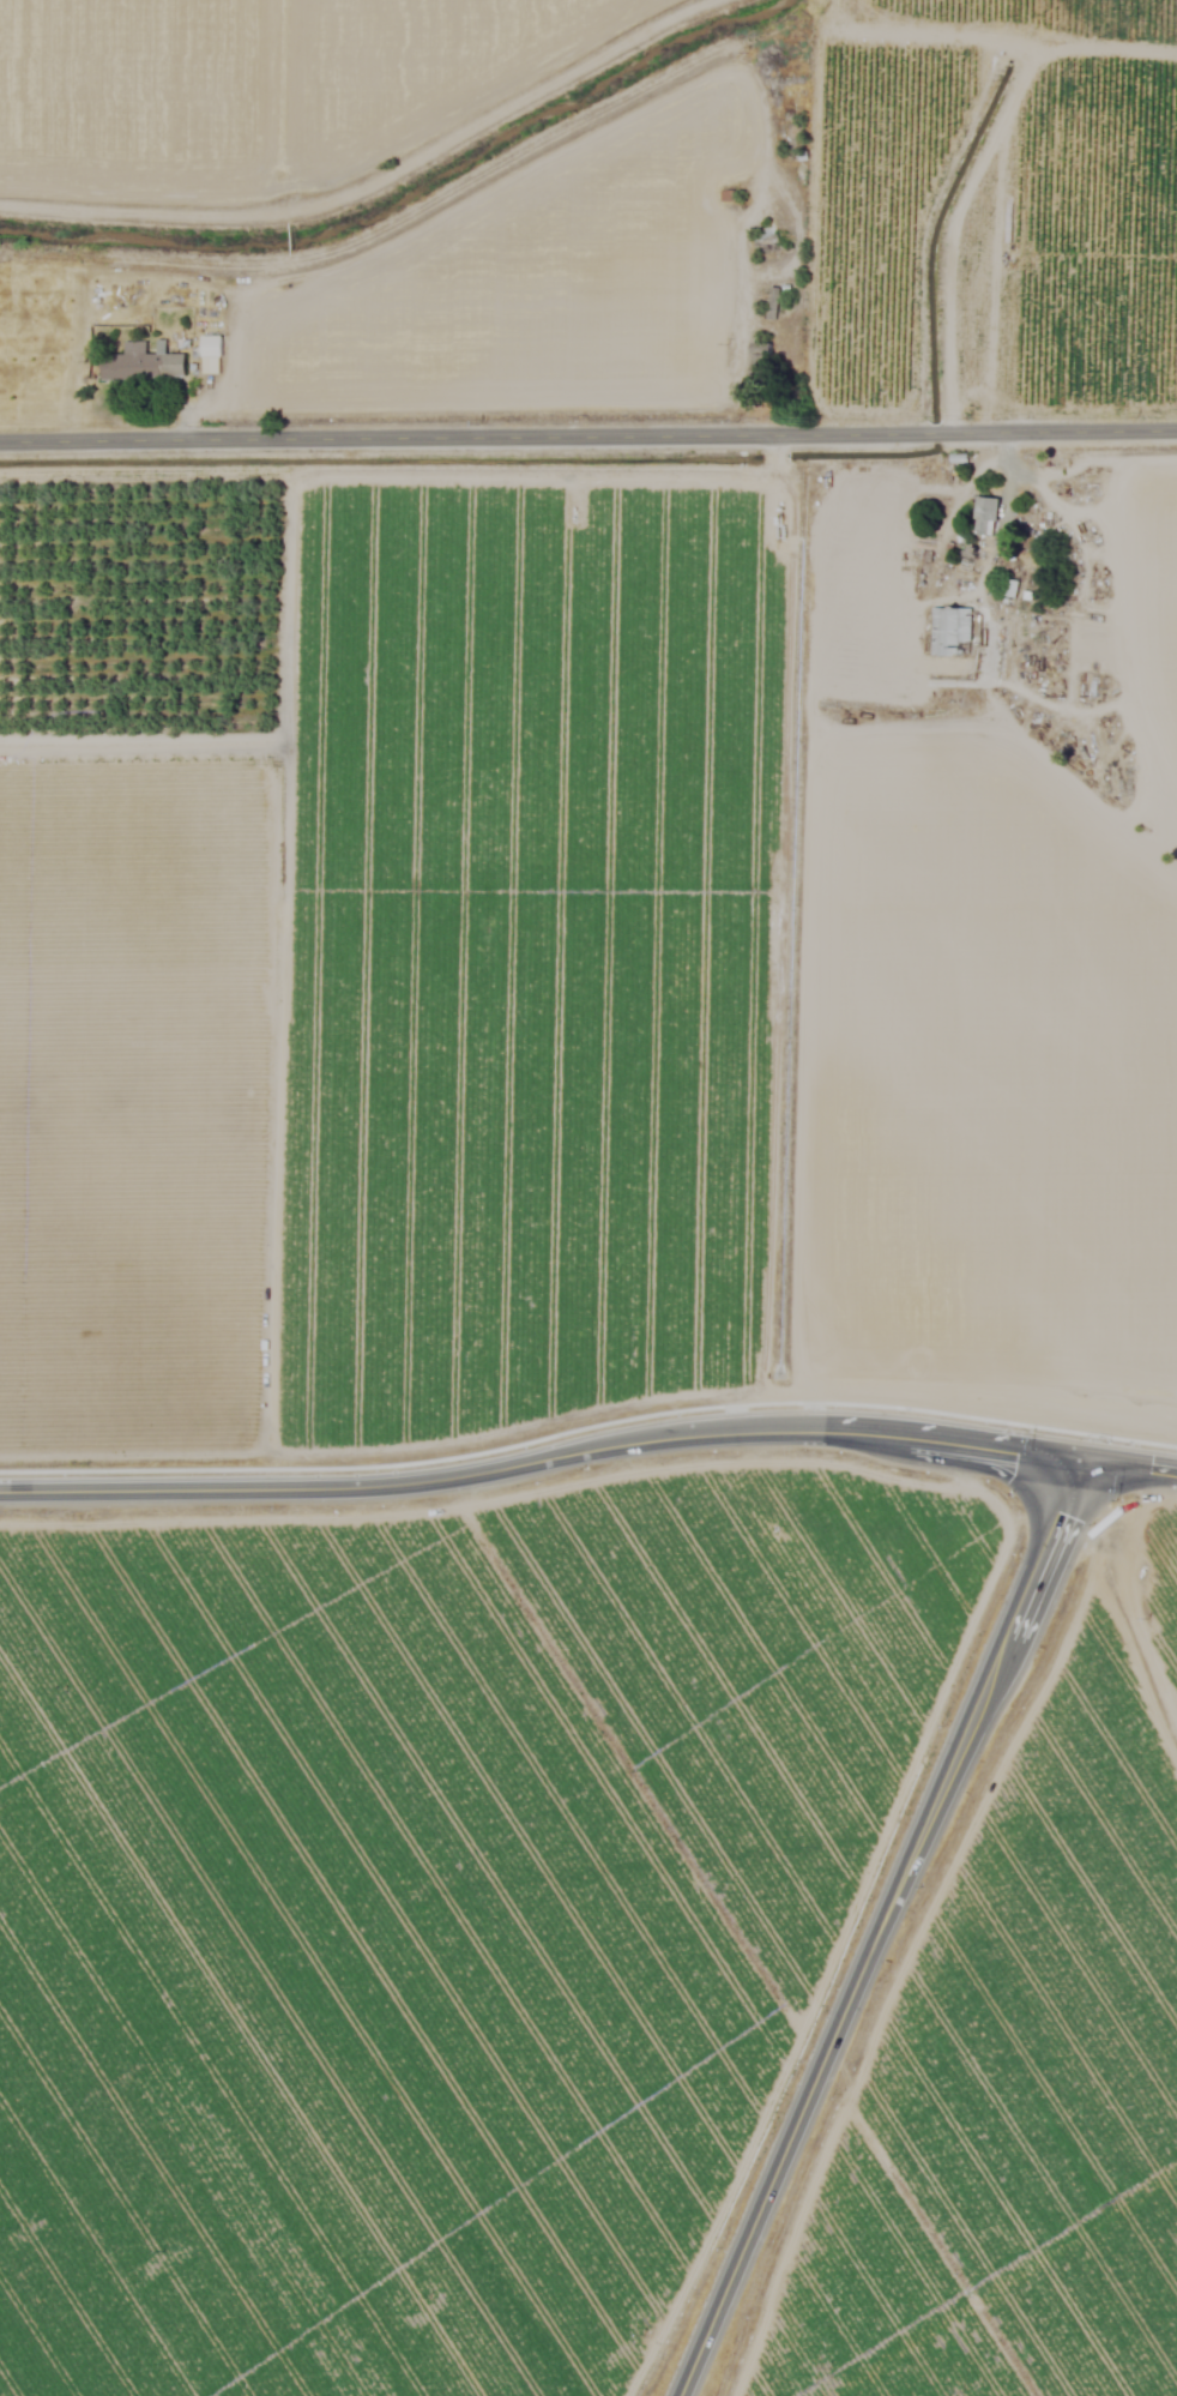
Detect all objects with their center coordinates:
building: (774, 300)
building: (212, 356)
building: (144, 366)
building: (760, 367)
road: (588, 437)
building: (986, 517)
building: (950, 632)
road: (811, 693)
crop: (588, 1198)
road: (588, 1449)
road: (880, 1927)

